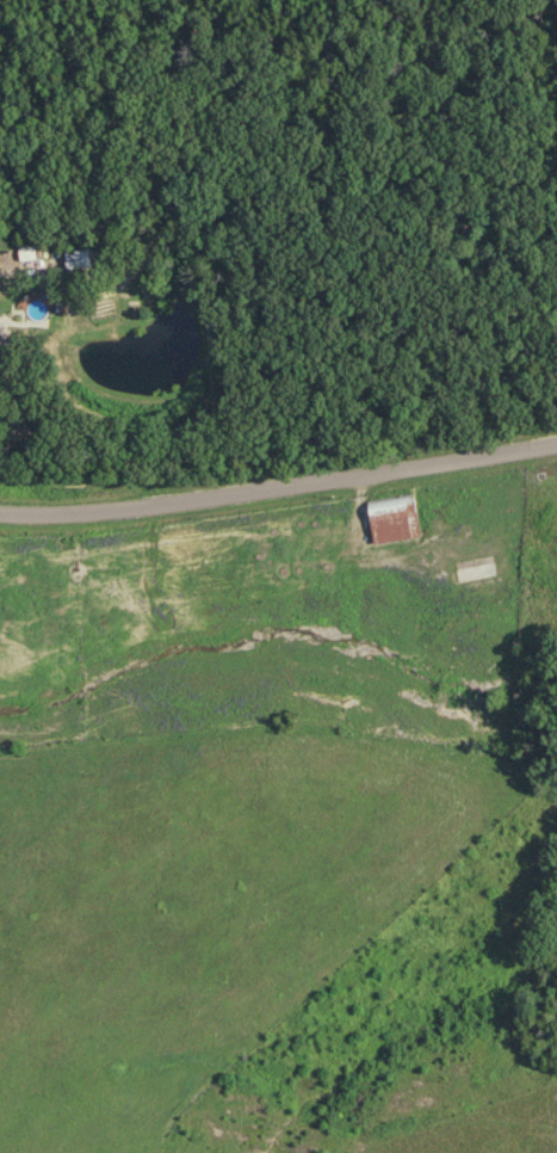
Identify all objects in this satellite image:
road: (278, 481)
building: (389, 519)
building: (489, 526)

